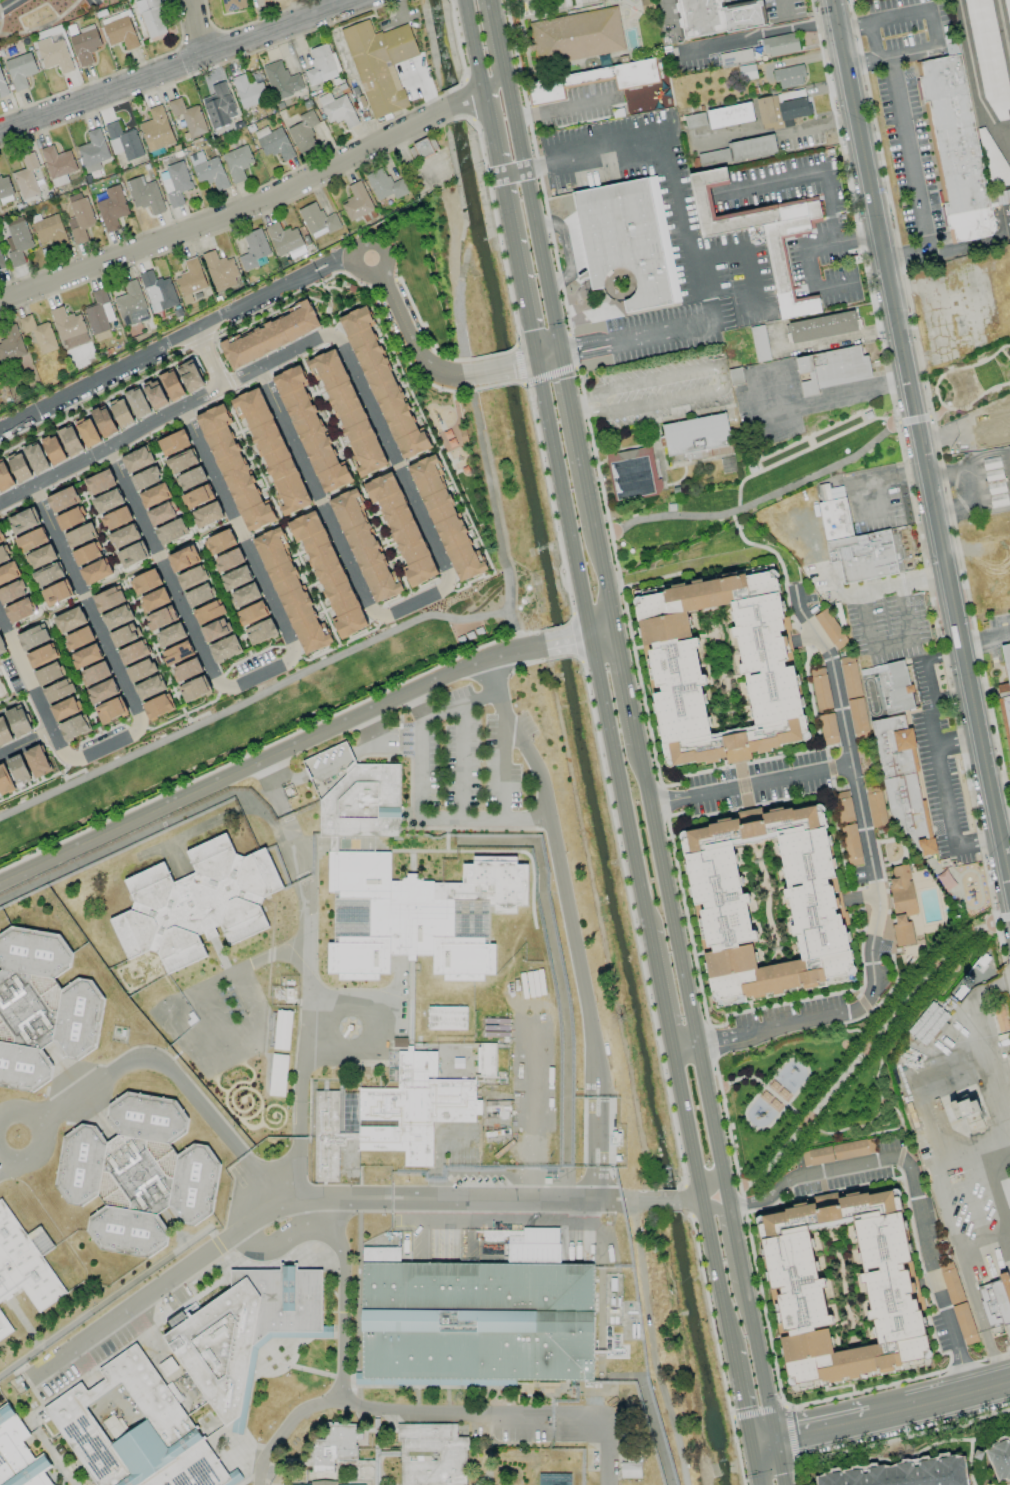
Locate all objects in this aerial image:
road: (5, 3)
road: (93, 4)
building: (232, 5)
road: (317, 7)
road: (787, 7)
building: (1007, 13)
building: (724, 15)
building: (151, 17)
road: (883, 19)
road: (196, 27)
road: (934, 28)
building: (119, 30)
road: (1003, 32)
building: (577, 35)
road: (759, 36)
road: (495, 37)
road: (873, 41)
building: (83, 43)
road: (472, 44)
building: (779, 44)
road: (907, 53)
building: (53, 54)
building: (735, 57)
building: (989, 59)
road: (178, 63)
building: (321, 64)
building: (379, 64)
building: (20, 70)
building: (746, 72)
building: (789, 76)
road: (974, 78)
building: (281, 80)
building: (592, 80)
road: (492, 81)
building: (2, 86)
building: (248, 91)
road: (474, 92)
road: (507, 97)
road: (453, 105)
building: (219, 106)
building: (791, 107)
road: (565, 108)
building: (337, 109)
building: (765, 112)
building: (729, 115)
building: (188, 117)
building: (695, 120)
road: (819, 128)
building: (156, 129)
building: (303, 132)
road: (489, 133)
building: (123, 141)
building: (274, 143)
building: (424, 146)
road: (517, 146)
building: (752, 147)
road: (909, 150)
building: (93, 151)
building: (961, 151)
road: (668, 153)
building: (713, 156)
building: (237, 163)
building: (57, 165)
building: (208, 170)
road: (537, 170)
road: (808, 174)
road: (509, 176)
building: (27, 177)
building: (175, 183)
building: (384, 185)
building: (5, 189)
building: (145, 195)
road: (526, 198)
building: (356, 202)
building: (112, 208)
road: (222, 215)
building: (79, 217)
building: (317, 220)
building: (50, 230)
road: (867, 236)
road: (879, 237)
building: (17, 240)
building: (285, 240)
building: (628, 240)
road: (831, 243)
road: (376, 245)
road: (566, 249)
building: (254, 250)
road: (347, 259)
road: (749, 260)
building: (1, 262)
road: (320, 263)
building: (779, 265)
park: (436, 267)
road: (517, 270)
road: (812, 270)
building: (220, 271)
road: (323, 271)
building: (190, 280)
road: (835, 287)
road: (544, 290)
flagpole: (568, 290)
building: (157, 291)
building: (131, 304)
building: (98, 312)
building: (821, 326)
building: (69, 328)
road: (673, 331)
building: (39, 334)
building: (271, 334)
road: (413, 337)
road: (848, 337)
road: (584, 342)
building: (759, 343)
building: (11, 345)
road: (152, 348)
road: (587, 354)
road: (214, 356)
traffic signals: (557, 358)
road: (547, 360)
traffic signals: (537, 362)
road: (527, 364)
building: (831, 369)
road: (495, 370)
building: (190, 375)
building: (735, 376)
road: (721, 377)
building: (382, 382)
park: (970, 383)
building: (172, 384)
road: (780, 389)
road: (935, 389)
building: (155, 394)
road: (755, 395)
road: (834, 399)
building: (137, 403)
building: (347, 410)
building: (121, 412)
road: (167, 420)
building: (104, 422)
building: (993, 428)
building: (309, 429)
building: (87, 431)
building: (696, 436)
building: (69, 439)
road: (945, 439)
building: (173, 442)
road: (574, 443)
park: (458, 448)
building: (53, 449)
building: (271, 449)
building: (36, 458)
building: (137, 459)
building: (181, 461)
road: (968, 462)
building: (19, 467)
building: (234, 470)
road: (376, 473)
building: (633, 473)
building: (5, 477)
building: (146, 478)
building: (191, 478)
road: (355, 478)
road: (878, 480)
park: (762, 481)
building: (99, 482)
building: (995, 482)
road: (738, 489)
road: (339, 491)
road: (489, 492)
road: (776, 493)
building: (154, 495)
building: (195, 497)
road: (563, 498)
building: (62, 499)
building: (107, 501)
road: (972, 508)
road: (302, 511)
building: (161, 514)
building: (207, 514)
building: (70, 518)
building: (116, 518)
road: (280, 518)
building: (446, 520)
building: (22, 521)
road: (213, 527)
building: (401, 528)
road: (262, 530)
building: (170, 532)
building: (80, 535)
building: (123, 536)
building: (1, 538)
building: (31, 540)
building: (219, 542)
road: (176, 544)
road: (197, 544)
building: (364, 546)
building: (86, 553)
building: (3, 555)
building: (132, 555)
building: (862, 555)
building: (40, 556)
building: (182, 559)
building: (228, 560)
road: (140, 567)
building: (8, 572)
building: (95, 572)
building: (328, 573)
building: (47, 575)
road: (824, 576)
building: (192, 577)
building: (235, 578)
road: (602, 580)
building: (145, 581)
road: (893, 584)
road: (102, 585)
road: (127, 591)
building: (12, 592)
building: (291, 593)
building: (55, 594)
building: (198, 595)
building: (244, 595)
building: (108, 599)
building: (154, 599)
road: (414, 602)
road: (64, 605)
building: (19, 610)
building: (208, 612)
building: (251, 613)
building: (117, 617)
building: (158, 619)
building: (69, 620)
road: (25, 623)
building: (830, 629)
building: (215, 630)
building: (260, 631)
road: (52, 632)
road: (602, 633)
building: (170, 635)
building: (122, 636)
road: (585, 636)
building: (32, 637)
road: (985, 637)
building: (78, 638)
road: (561, 641)
road: (890, 643)
road: (338, 645)
building: (2, 648)
building: (225, 648)
building: (133, 652)
building: (177, 653)
building: (41, 656)
building: (85, 656)
road: (249, 656)
building: (720, 668)
building: (141, 670)
building: (186, 670)
building: (94, 673)
building: (48, 674)
road: (261, 677)
road: (966, 677)
building: (149, 687)
building: (820, 687)
road: (624, 688)
building: (193, 689)
building: (58, 690)
building: (102, 691)
road: (262, 692)
building: (1005, 693)
building: (853, 696)
road: (458, 705)
building: (157, 706)
building: (64, 709)
building: (110, 710)
road: (184, 713)
road: (185, 716)
road: (197, 716)
park: (254, 718)
building: (18, 721)
road: (139, 722)
building: (73, 727)
building: (828, 729)
building: (4, 732)
road: (955, 737)
road: (25, 744)
road: (256, 750)
road: (936, 756)
road: (270, 758)
building: (900, 758)
building: (36, 761)
road: (459, 761)
road: (501, 761)
parking lot: (328, 767)
building: (18, 769)
road: (61, 773)
road: (75, 773)
road: (290, 779)
building: (4, 780)
road: (621, 782)
road: (34, 784)
road: (749, 784)
building: (844, 806)
building: (875, 806)
road: (418, 817)
road: (1003, 821)
road: (867, 844)
building: (851, 845)
road: (1008, 864)
road: (557, 873)
building: (403, 890)
building: (902, 891)
road: (664, 894)
building: (766, 903)
building: (196, 904)
building: (902, 931)
road: (307, 977)
road: (663, 989)
road: (211, 1002)
building: (41, 1007)
building: (446, 1018)
flagpole: (348, 1028)
road: (746, 1033)
road: (714, 1040)
road: (869, 1045)
road: (685, 1047)
road: (714, 1064)
park: (840, 1069)
road: (176, 1080)
road: (918, 1096)
road: (789, 1102)
road: (707, 1105)
building: (962, 1108)
building: (397, 1110)
road: (900, 1122)
road: (689, 1124)
road: (854, 1127)
road: (46, 1133)
road: (878, 1133)
road: (729, 1137)
road: (596, 1148)
building: (837, 1152)
road: (974, 1162)
road: (3, 1166)
building: (137, 1174)
road: (1003, 1176)
road: (712, 1182)
road: (911, 1184)
road: (724, 1192)
road: (823, 1192)
road: (663, 1199)
road: (302, 1200)
road: (975, 1204)
road: (719, 1207)
road: (985, 1242)
road: (736, 1250)
building: (25, 1262)
road: (923, 1273)
road: (719, 1274)
building: (841, 1286)
building: (996, 1303)
road: (85, 1314)
building: (476, 1317)
building: (4, 1327)
building: (245, 1332)
road: (995, 1357)
road: (340, 1364)
road: (762, 1383)
road: (743, 1398)
road: (788, 1407)
road: (757, 1410)
road: (502, 1412)
road: (881, 1417)
road: (789, 1433)
traffic signals: (775, 1443)
traffic signals: (753, 1447)
building: (19, 1454)
building: (431, 1455)
building: (1000, 1458)
road: (756, 1466)
building: (902, 1474)
building: (334, 1484)

